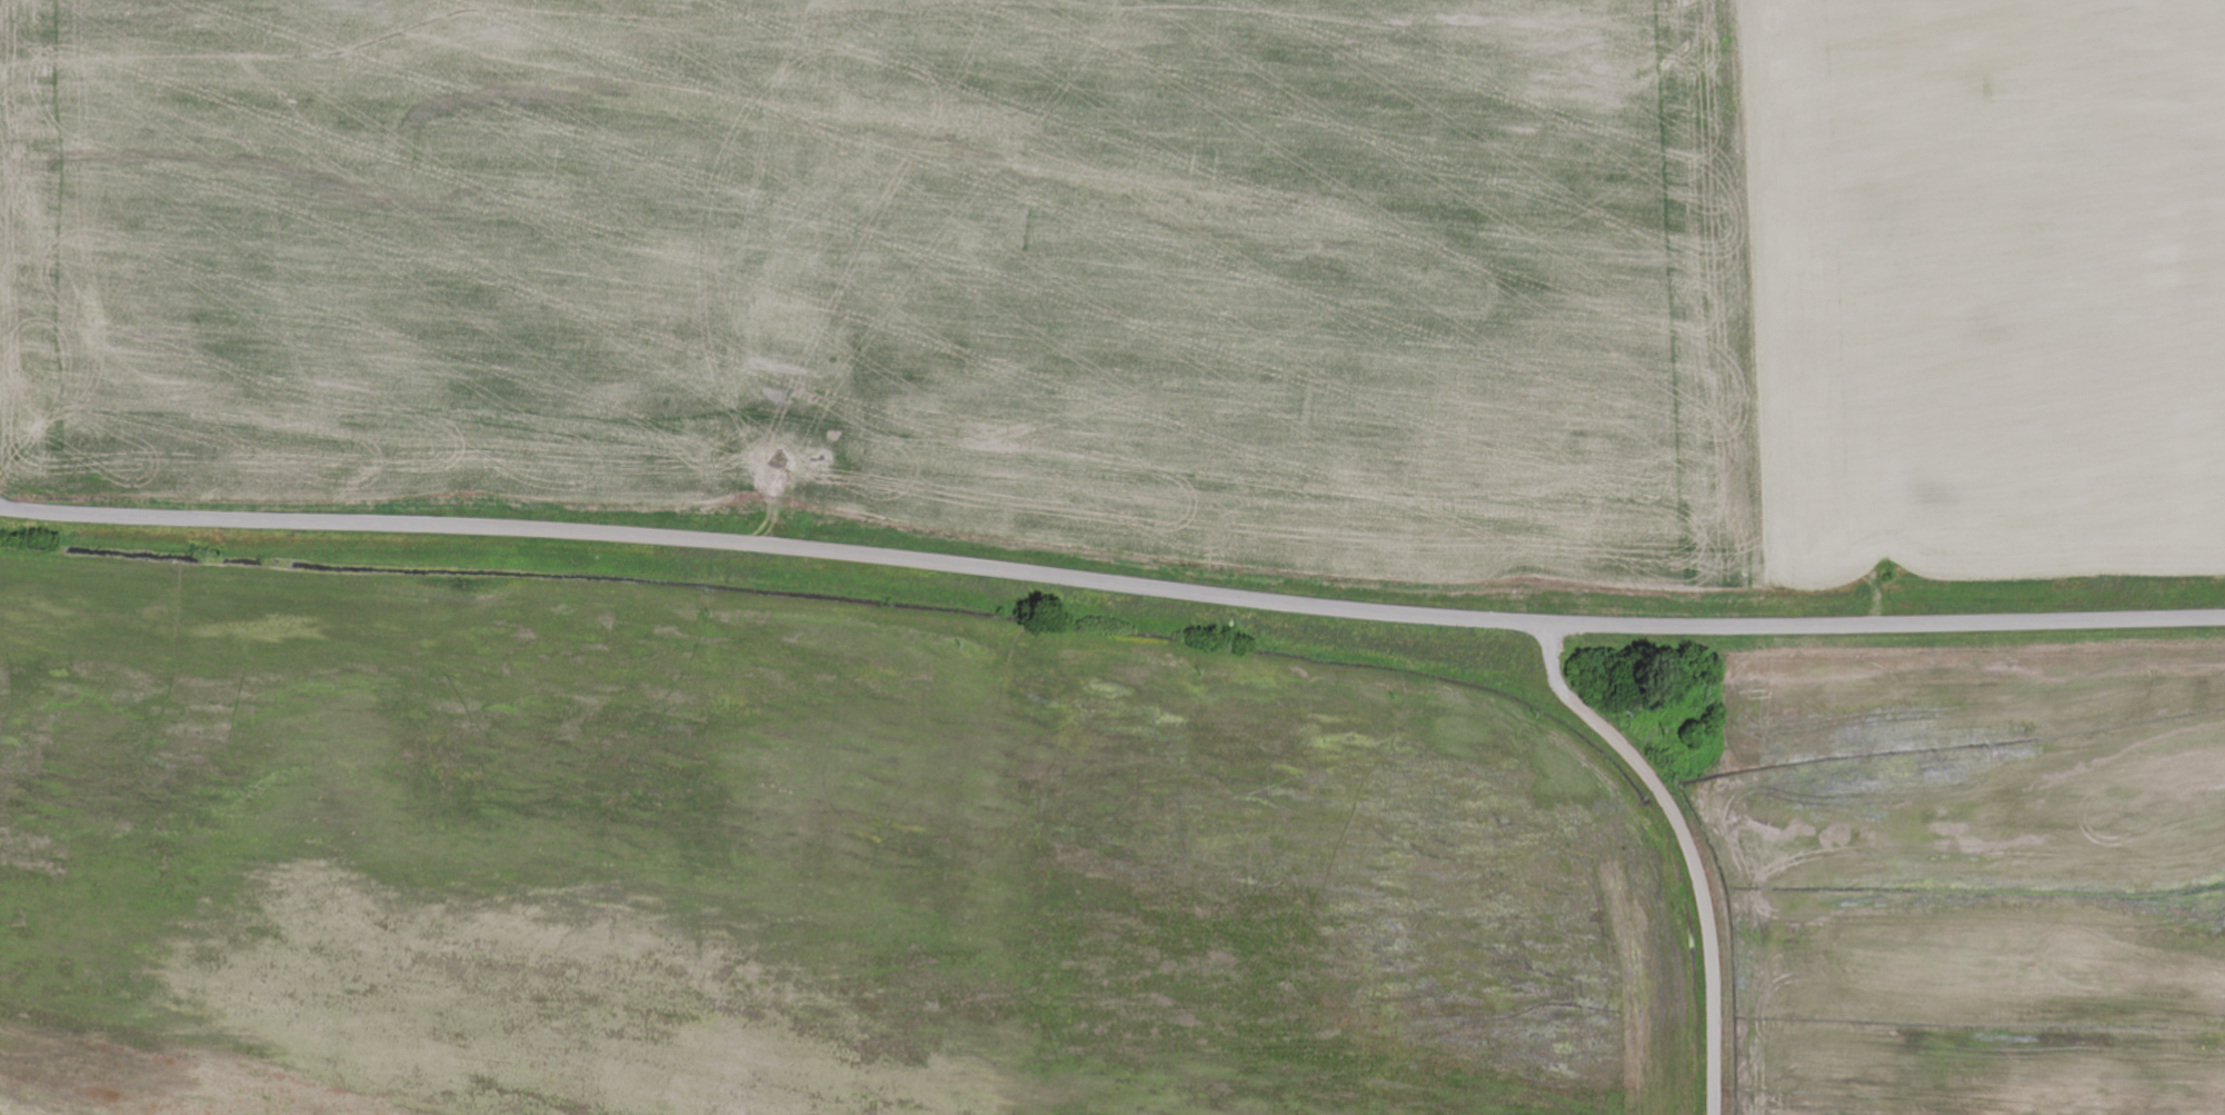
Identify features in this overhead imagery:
road: (1111, 585)
road: (1687, 847)

